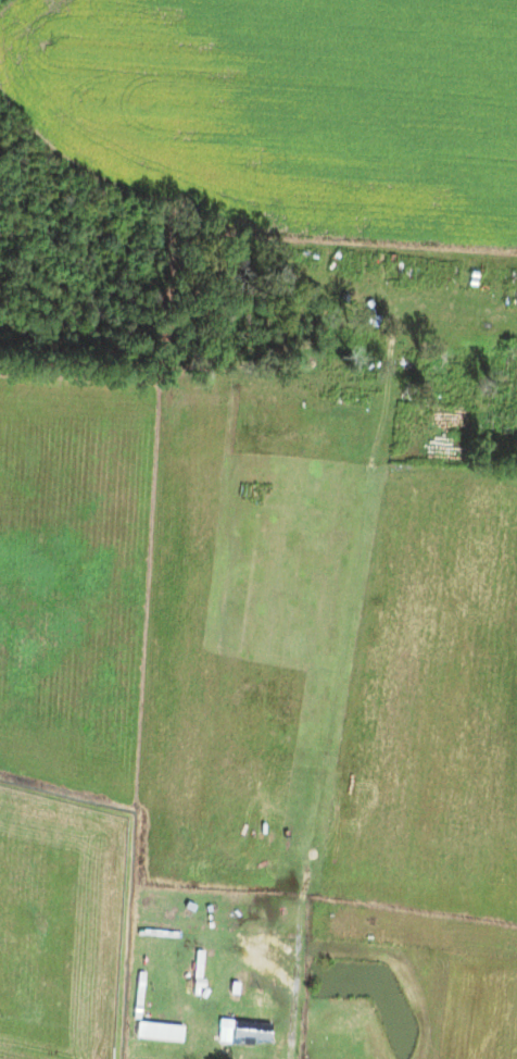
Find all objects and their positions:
building: (252, 1030)
building: (163, 1031)

